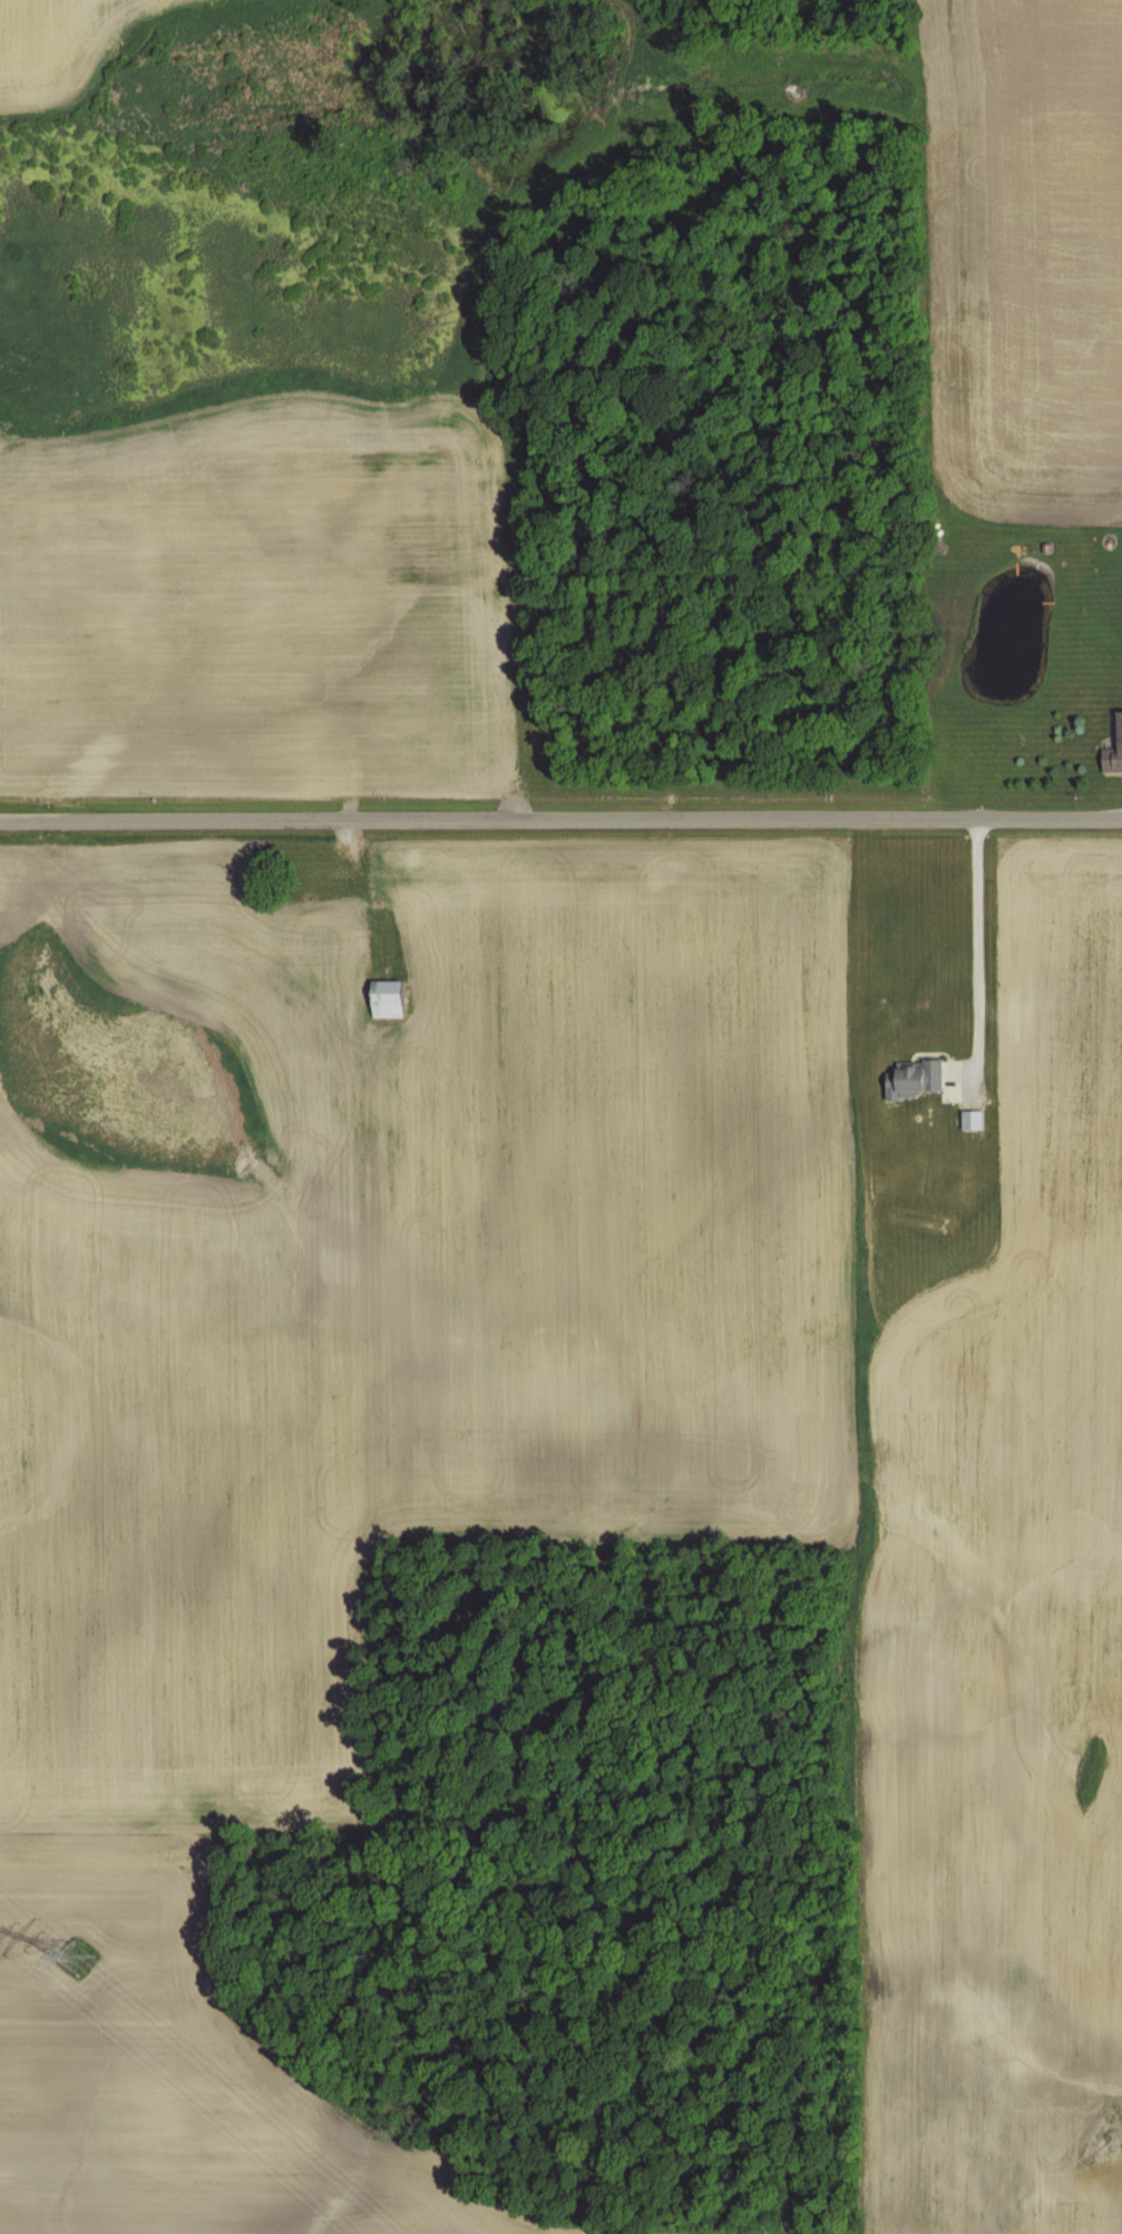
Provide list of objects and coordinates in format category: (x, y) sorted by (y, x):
building: (1116, 740)
road: (560, 808)
road: (986, 943)
building: (383, 1001)
building: (910, 1080)
building: (970, 1121)
power tower: (71, 1960)

